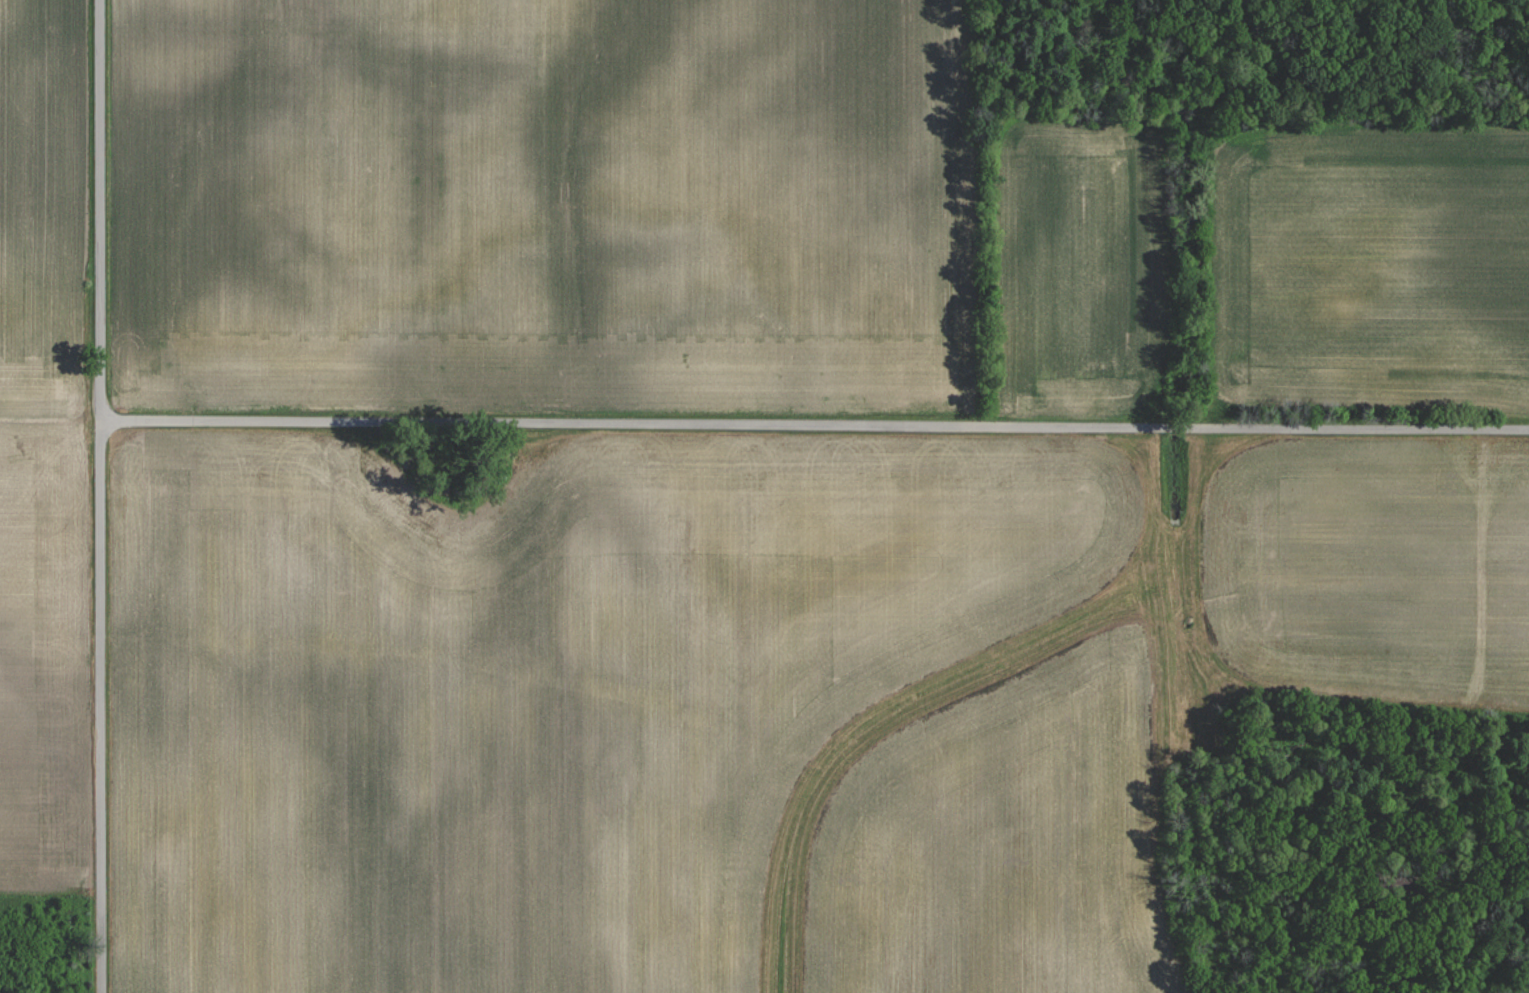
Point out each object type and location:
road: (815, 425)
road: (100, 496)
road: (1490, 668)

